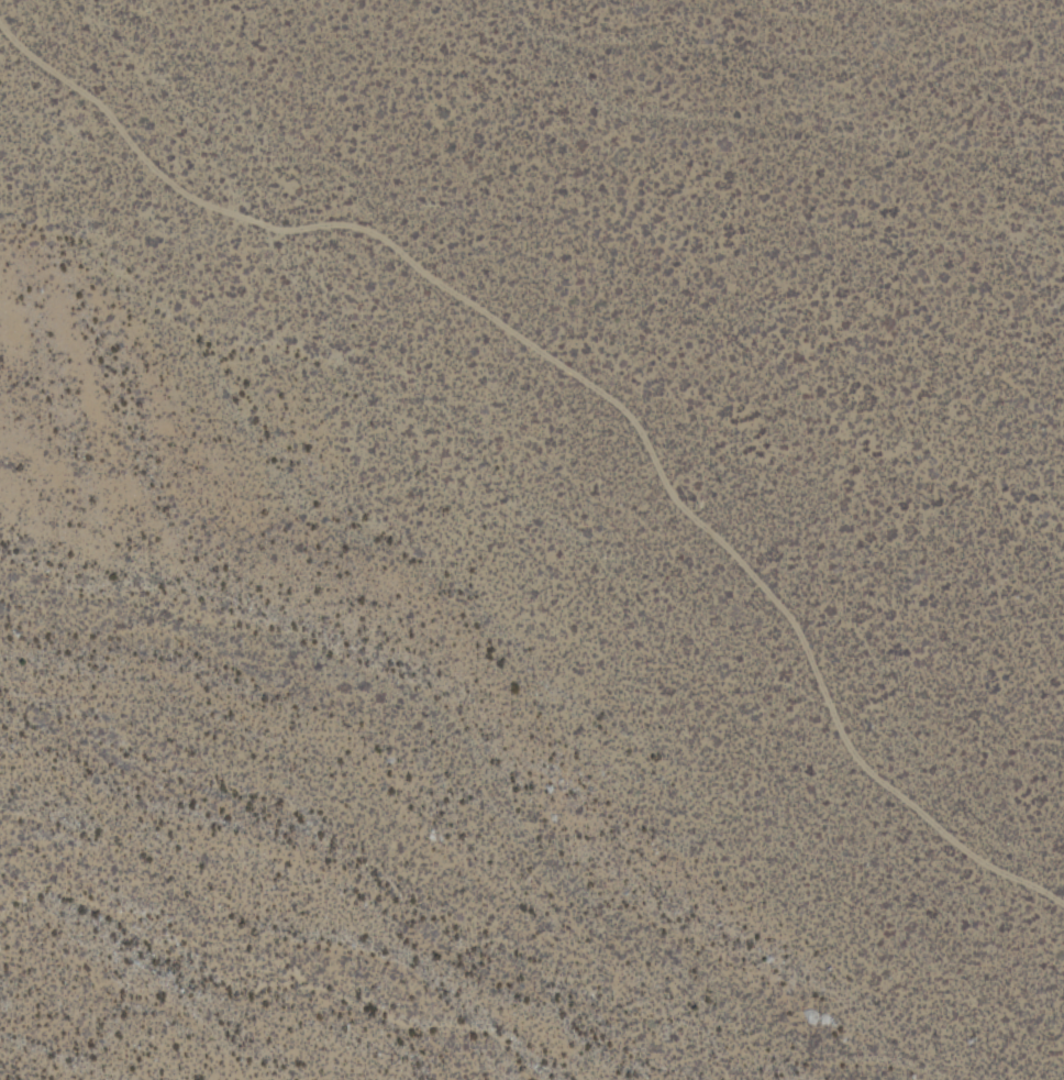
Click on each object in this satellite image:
road: (592, 392)

